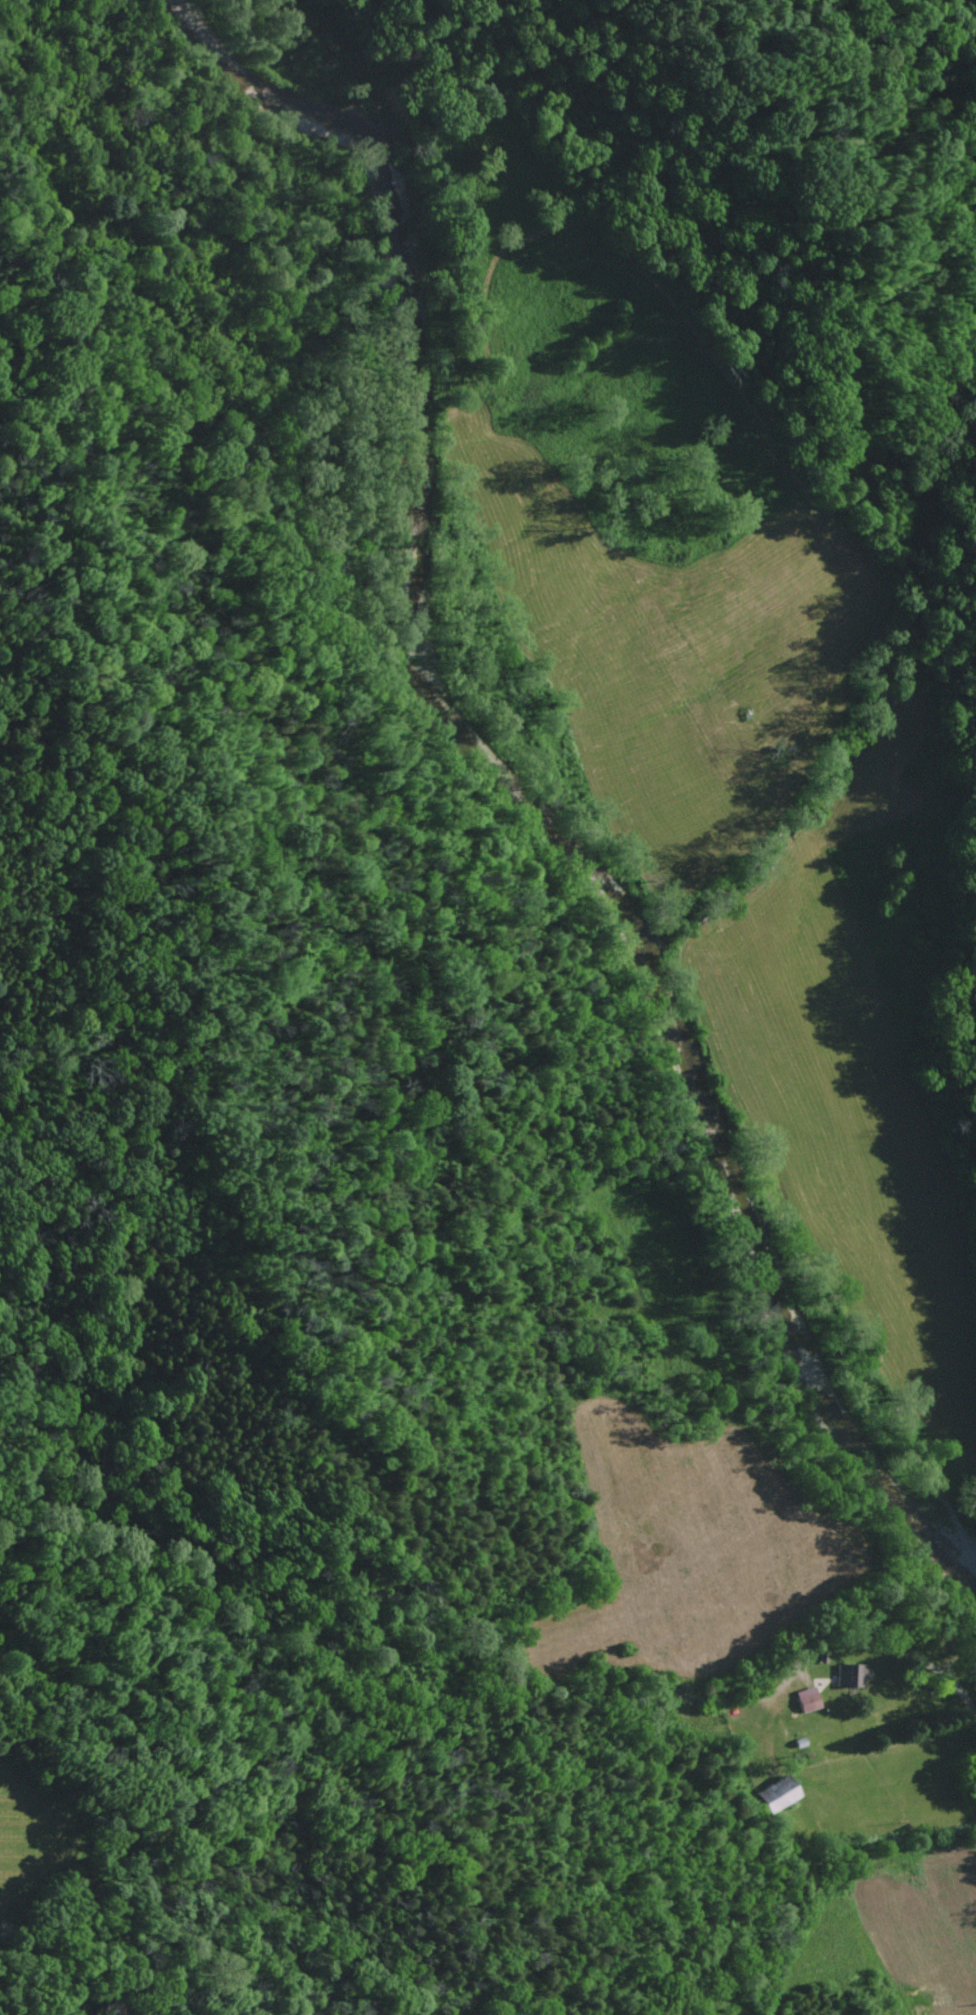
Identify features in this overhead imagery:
road: (946, 1678)
building: (805, 1701)
building: (773, 1796)

